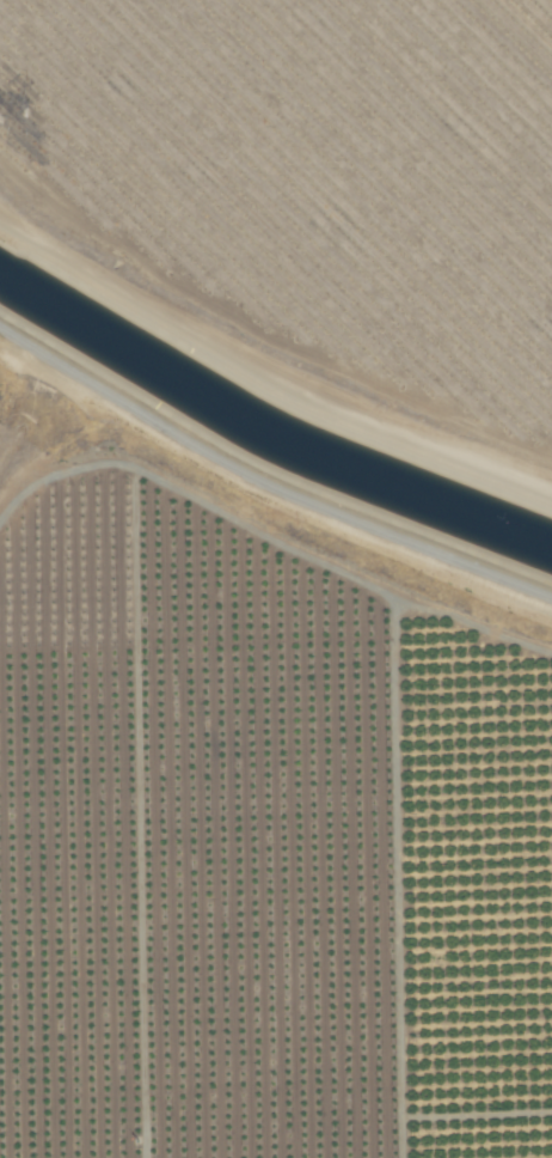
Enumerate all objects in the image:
crop: (258, 790)

